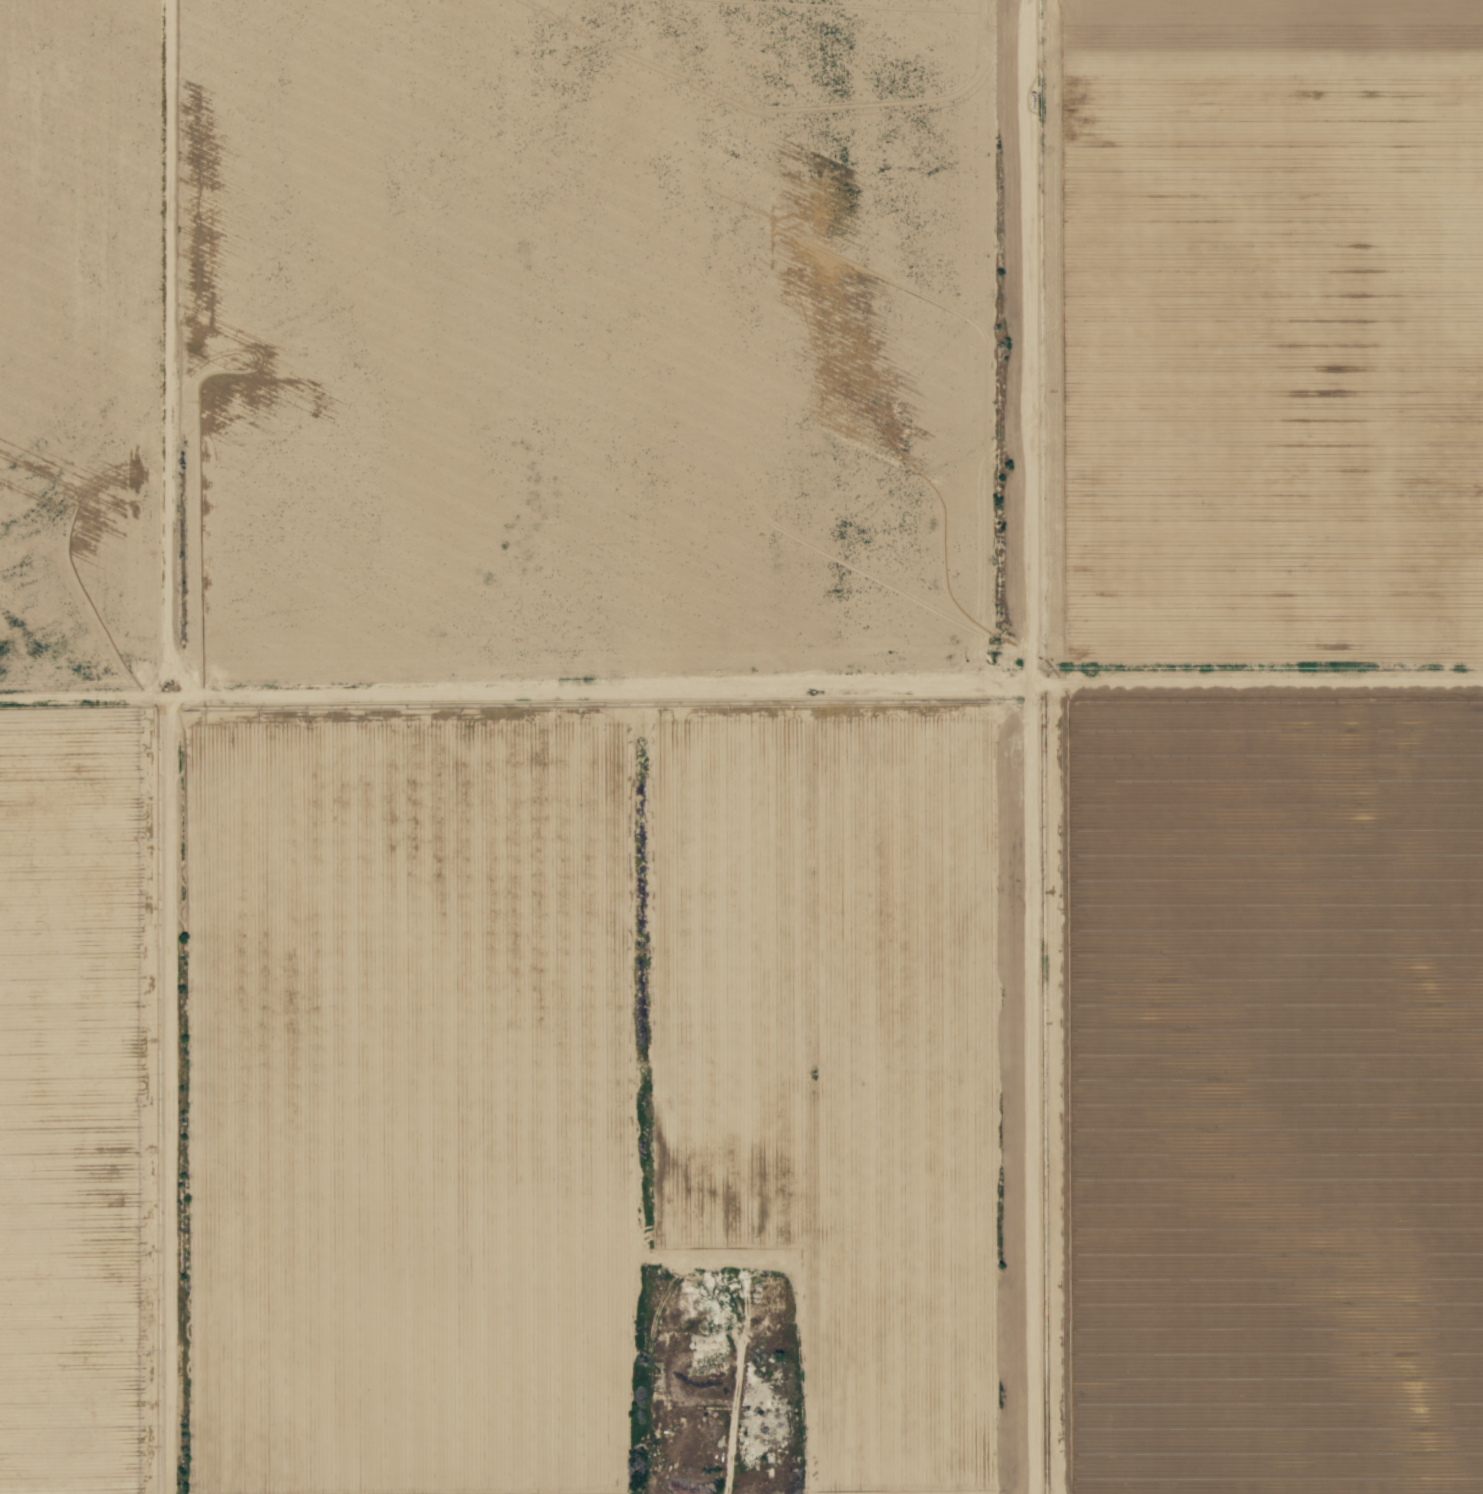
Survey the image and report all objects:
road: (1031, 342)
road: (271, 673)
road: (1253, 686)
road: (603, 687)
crop: (673, 748)

